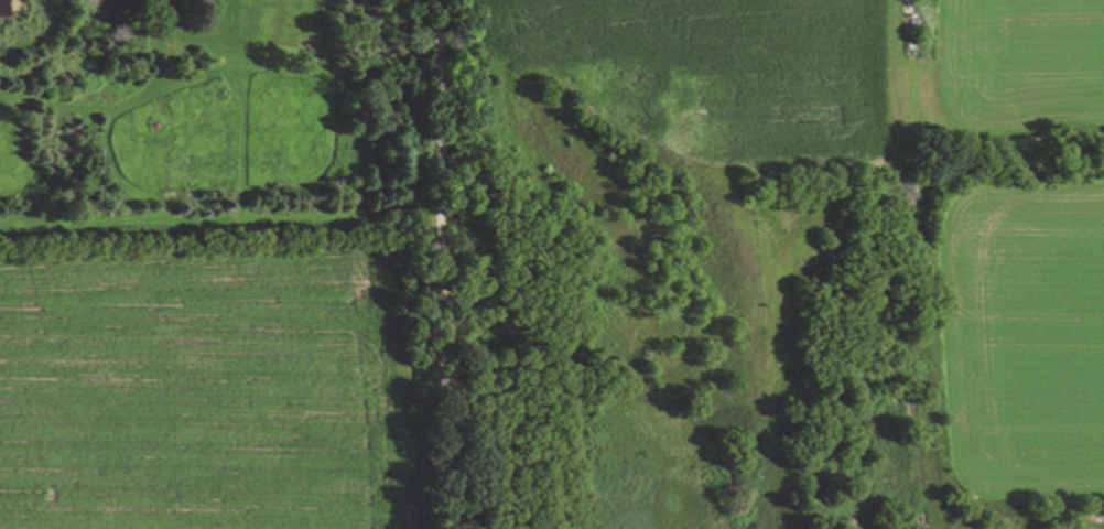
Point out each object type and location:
road: (443, 264)

